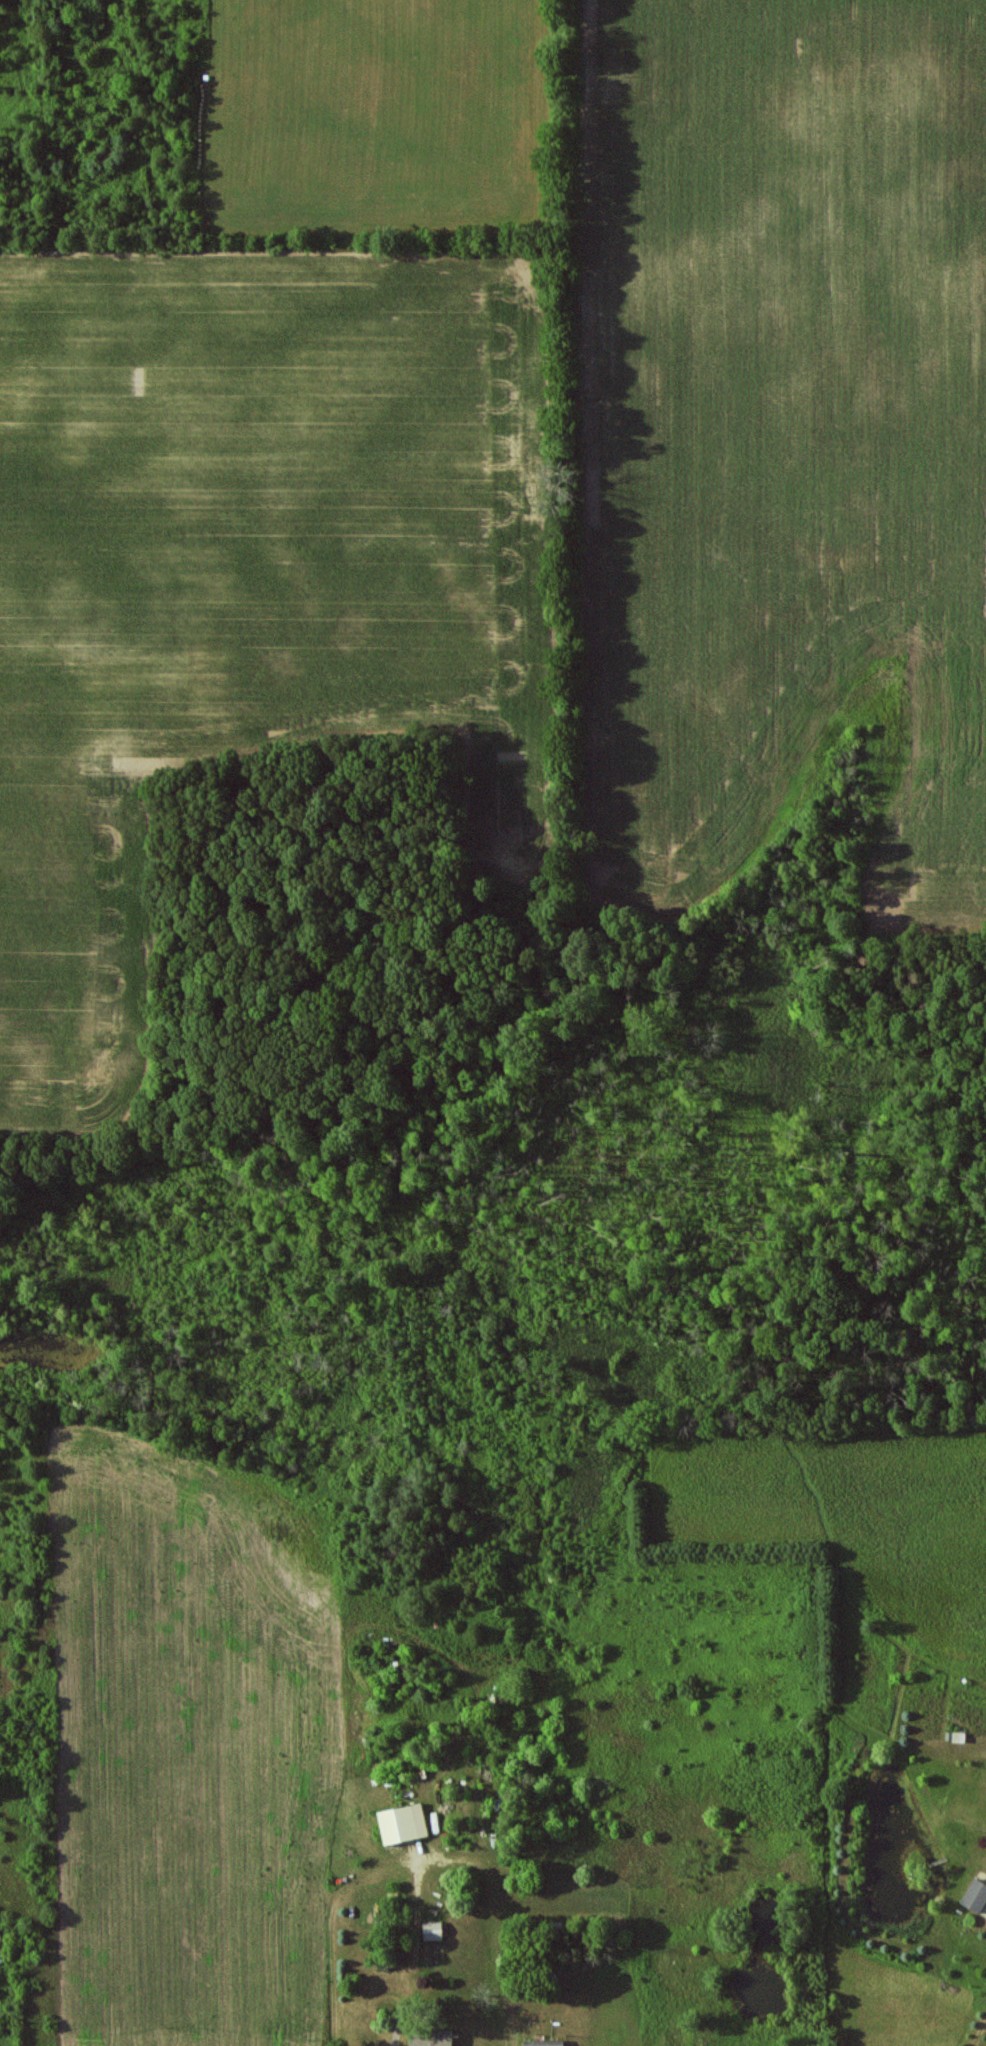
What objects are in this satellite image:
building: (405, 1825)
building: (976, 1896)
building: (435, 1931)
road: (979, 2032)
building: (547, 2043)

